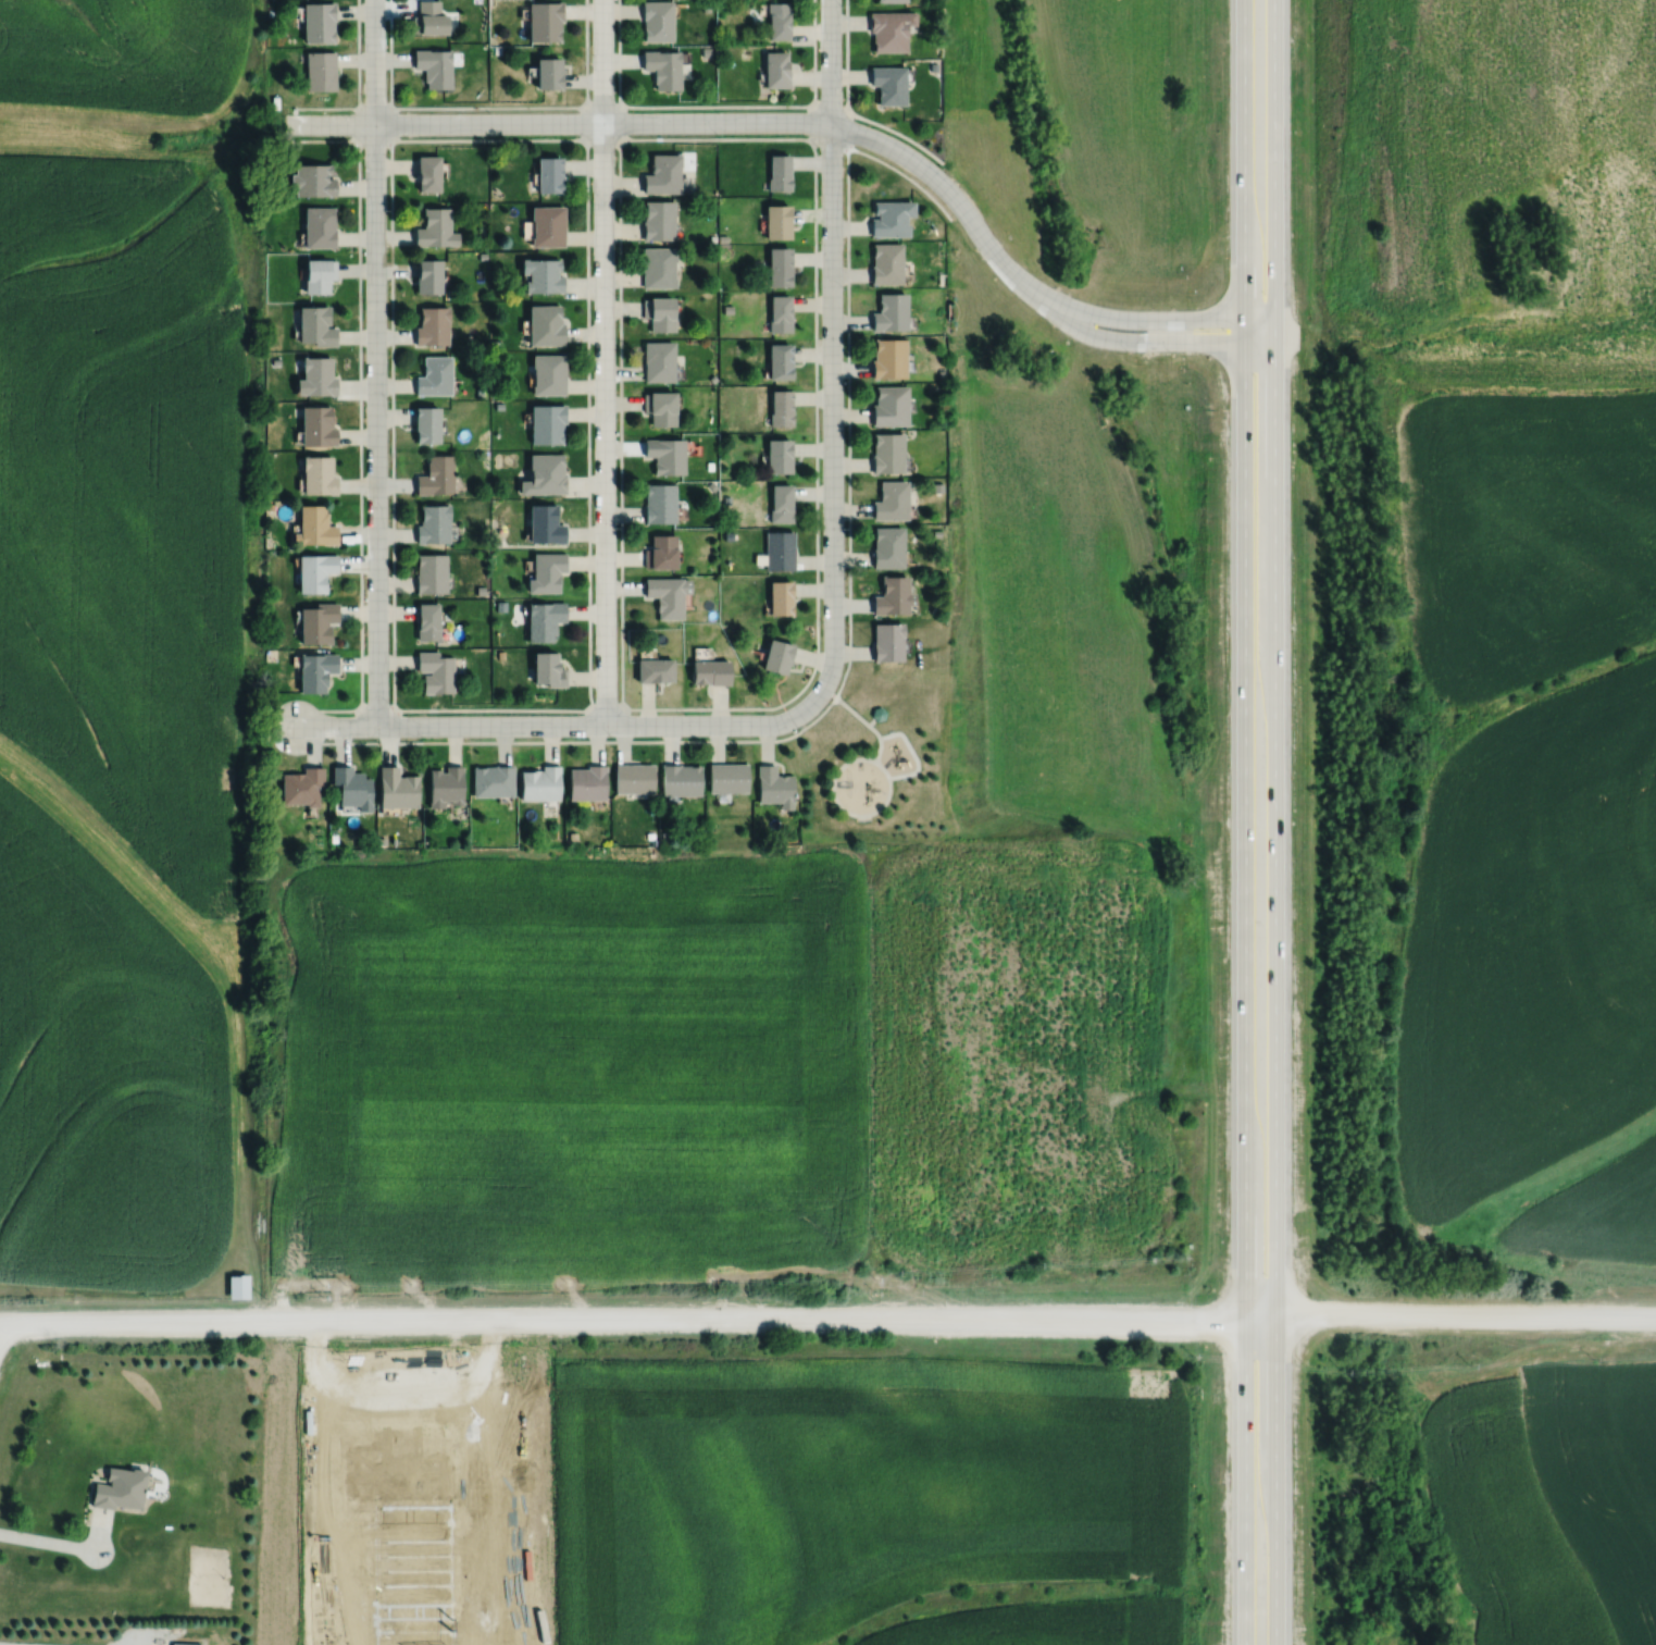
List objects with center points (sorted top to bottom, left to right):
building: (891, 1)
building: (706, 7)
building: (269, 12)
building: (428, 18)
building: (656, 21)
building: (779, 21)
building: (545, 22)
building: (317, 23)
building: (888, 30)
building: (725, 35)
building: (497, 49)
building: (706, 52)
building: (933, 66)
building: (434, 67)
building: (662, 69)
building: (775, 70)
building: (319, 71)
road: (814, 71)
building: (548, 74)
road: (358, 82)
building: (888, 85)
road: (712, 104)
road: (373, 106)
road: (505, 106)
road: (829, 106)
road: (692, 122)
road: (898, 133)
road: (601, 140)
road: (829, 143)
building: (428, 171)
building: (781, 171)
building: (550, 172)
building: (662, 173)
road: (906, 175)
building: (312, 178)
building: (892, 217)
building: (657, 219)
building: (779, 220)
building: (320, 225)
building: (547, 225)
building: (436, 226)
building: (712, 237)
building: (722, 237)
building: (483, 255)
building: (886, 262)
building: (657, 265)
building: (781, 265)
building: (319, 274)
building: (429, 274)
building: (543, 274)
road: (587, 294)
building: (727, 308)
building: (658, 311)
building: (891, 311)
building: (782, 312)
road: (1151, 319)
building: (316, 324)
building: (546, 324)
building: (433, 325)
road: (1145, 341)
road: (831, 345)
road: (391, 354)
building: (888, 357)
building: (659, 360)
building: (782, 360)
road: (375, 361)
road: (605, 361)
building: (549, 373)
building: (942, 373)
building: (316, 375)
building: (436, 375)
building: (713, 378)
building: (481, 391)
road: (359, 392)
building: (499, 392)
building: (499, 405)
building: (892, 405)
building: (660, 407)
building: (783, 408)
building: (548, 422)
building: (427, 423)
building: (317, 425)
building: (889, 453)
building: (667, 455)
building: (781, 456)
building: (709, 465)
building: (319, 474)
building: (546, 474)
building: (437, 475)
building: (712, 485)
building: (937, 486)
building: (893, 500)
building: (660, 503)
building: (783, 503)
building: (270, 506)
building: (434, 523)
building: (546, 524)
building: (315, 527)
building: (936, 532)
building: (729, 535)
building: (497, 542)
building: (889, 547)
building: (781, 551)
building: (661, 553)
building: (315, 572)
building: (548, 572)
building: (432, 573)
building: (481, 590)
building: (668, 595)
building: (895, 596)
building: (782, 598)
building: (935, 609)
building: (710, 615)
building: (545, 620)
building: (317, 622)
building: (428, 622)
road: (848, 633)
building: (889, 642)
building: (501, 654)
building: (779, 657)
building: (549, 670)
building: (315, 671)
building: (656, 671)
building: (436, 672)
building: (711, 673)
road: (829, 692)
road: (621, 698)
road: (473, 708)
building: (877, 710)
road: (855, 713)
road: (565, 725)
road: (908, 745)
road: (877, 749)
park: (876, 757)
building: (726, 775)
building: (636, 779)
building: (682, 780)
building: (494, 782)
building: (588, 783)
building: (541, 784)
building: (773, 784)
building: (446, 787)
building: (302, 788)
building: (352, 789)
building: (398, 790)
road: (833, 795)
road: (1274, 821)
road: (1245, 822)
building: (709, 826)
building: (573, 836)
building: (650, 836)
building: (665, 836)
building: (334, 838)
building: (382, 842)
building: (394, 842)
building: (420, 844)
building: (237, 1285)
road: (827, 1319)
building: (117, 1489)
road: (65, 1544)
building: (185, 1643)
road: (3, 1644)

